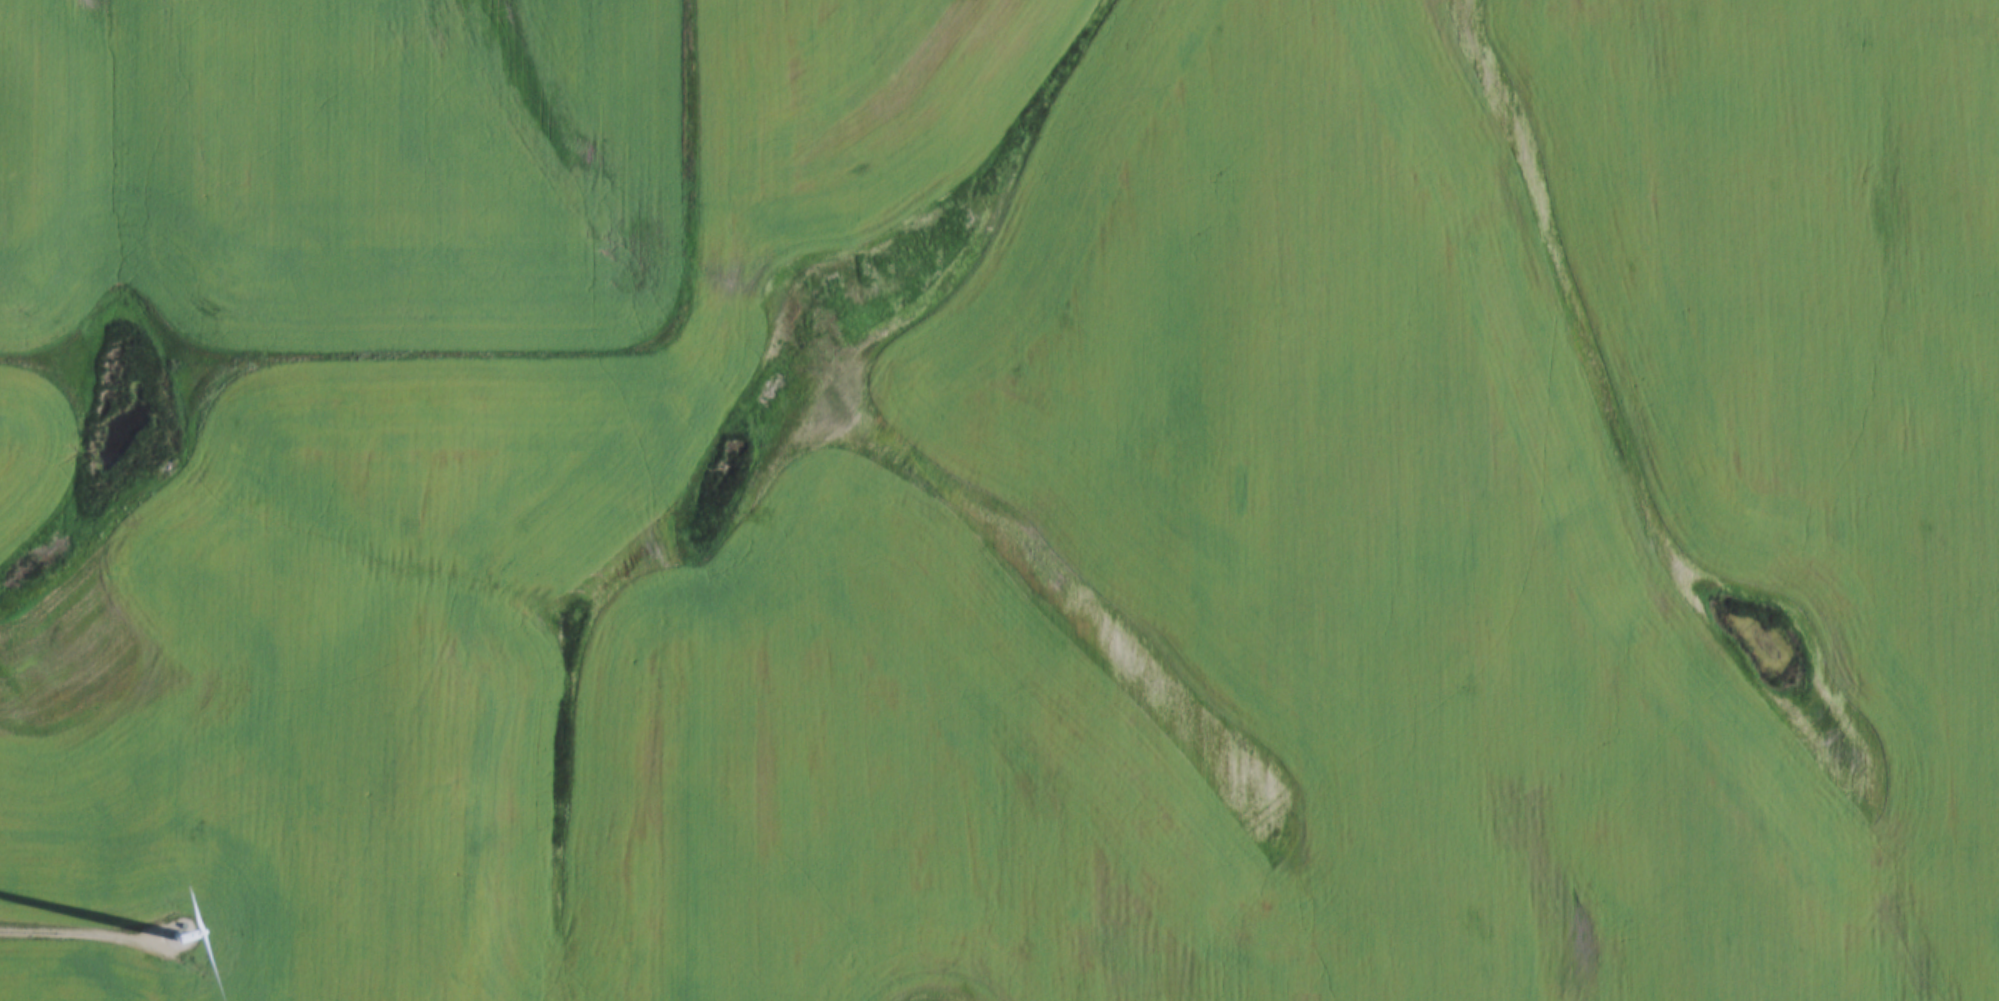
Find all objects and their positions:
road: (73, 936)
wind turbine: (184, 939)

